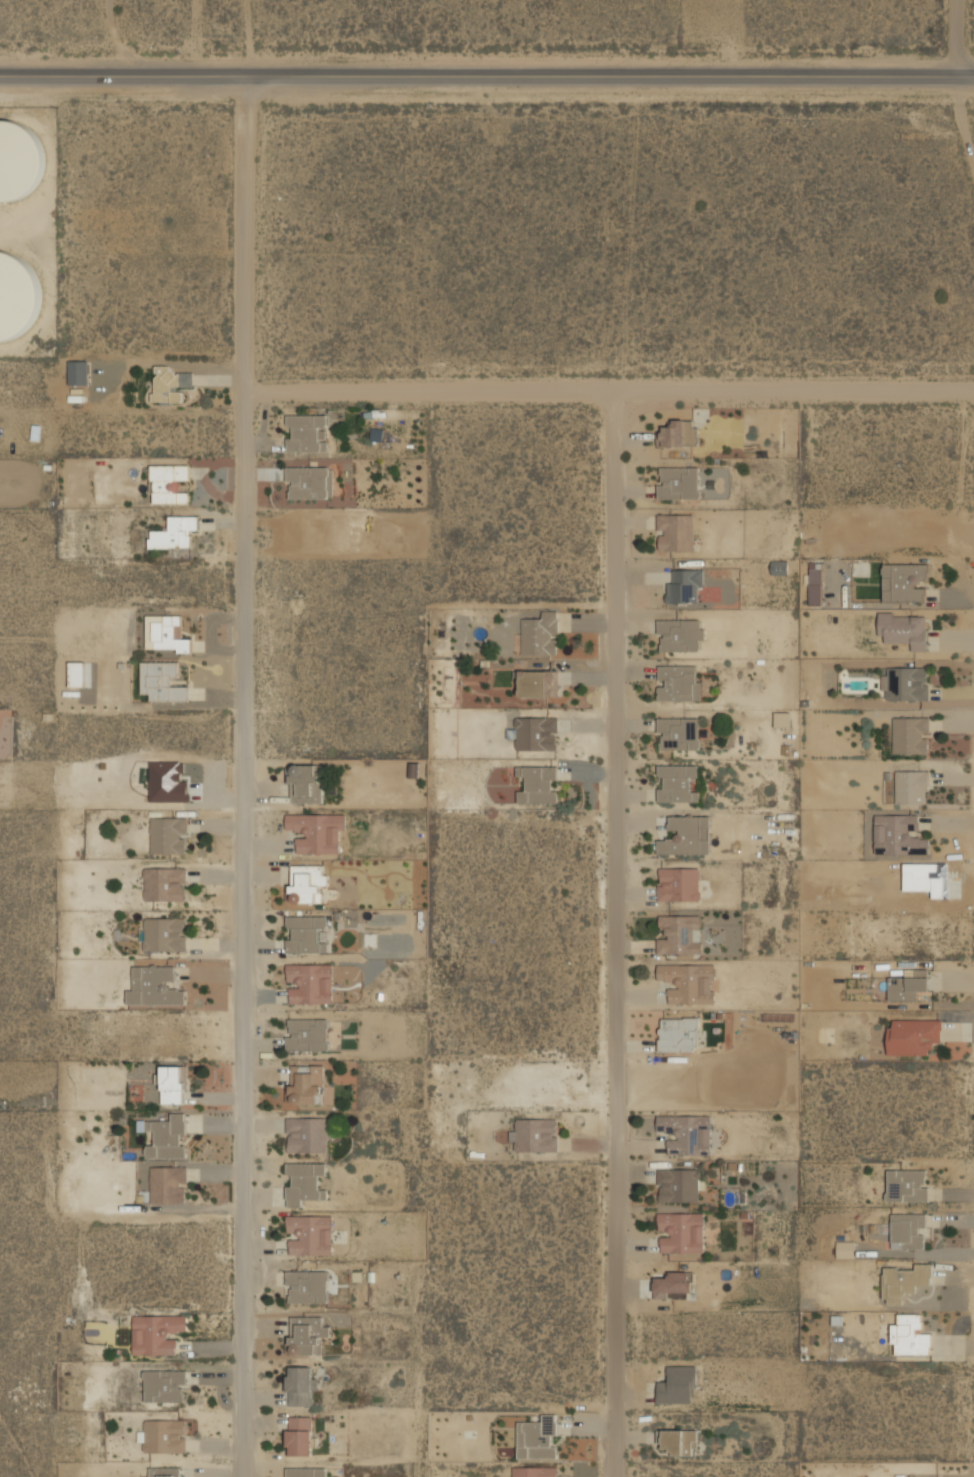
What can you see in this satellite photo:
road: (955, 37)
road: (487, 74)
building: (19, 159)
road: (250, 233)
building: (16, 295)
building: (79, 372)
building: (174, 385)
road: (608, 391)
building: (679, 432)
building: (308, 433)
building: (310, 481)
building: (678, 481)
building: (169, 482)
building: (178, 531)
building: (675, 532)
building: (781, 566)
building: (904, 581)
building: (815, 583)
building: (685, 586)
building: (904, 628)
building: (165, 632)
building: (541, 634)
building: (680, 634)
building: (78, 673)
building: (162, 680)
building: (539, 682)
building: (678, 683)
building: (905, 683)
building: (782, 719)
building: (536, 733)
building: (678, 733)
building: (911, 734)
building: (677, 782)
building: (306, 783)
building: (538, 783)
building: (912, 785)
building: (317, 832)
building: (899, 834)
building: (168, 835)
building: (686, 835)
building: (165, 883)
building: (678, 883)
building: (309, 884)
building: (302, 933)
building: (162, 934)
road: (244, 934)
road: (613, 934)
building: (679, 934)
building: (688, 982)
building: (310, 983)
building: (908, 984)
building: (154, 986)
building: (307, 1034)
building: (679, 1034)
building: (913, 1035)
building: (174, 1084)
building: (307, 1084)
building: (686, 1133)
building: (307, 1134)
building: (534, 1135)
building: (166, 1136)
building: (303, 1182)
building: (168, 1184)
building: (679, 1184)
building: (907, 1185)
building: (908, 1230)
building: (682, 1232)
building: (310, 1235)
building: (845, 1249)
building: (902, 1281)
building: (307, 1286)
building: (157, 1333)
building: (124, 1334)
building: (306, 1334)
building: (910, 1335)
building: (165, 1385)
building: (301, 1385)
building: (678, 1385)
building: (163, 1435)
building: (299, 1435)
building: (538, 1438)
building: (680, 1441)
building: (163, 1471)
building: (534, 1471)
building: (306, 1472)

